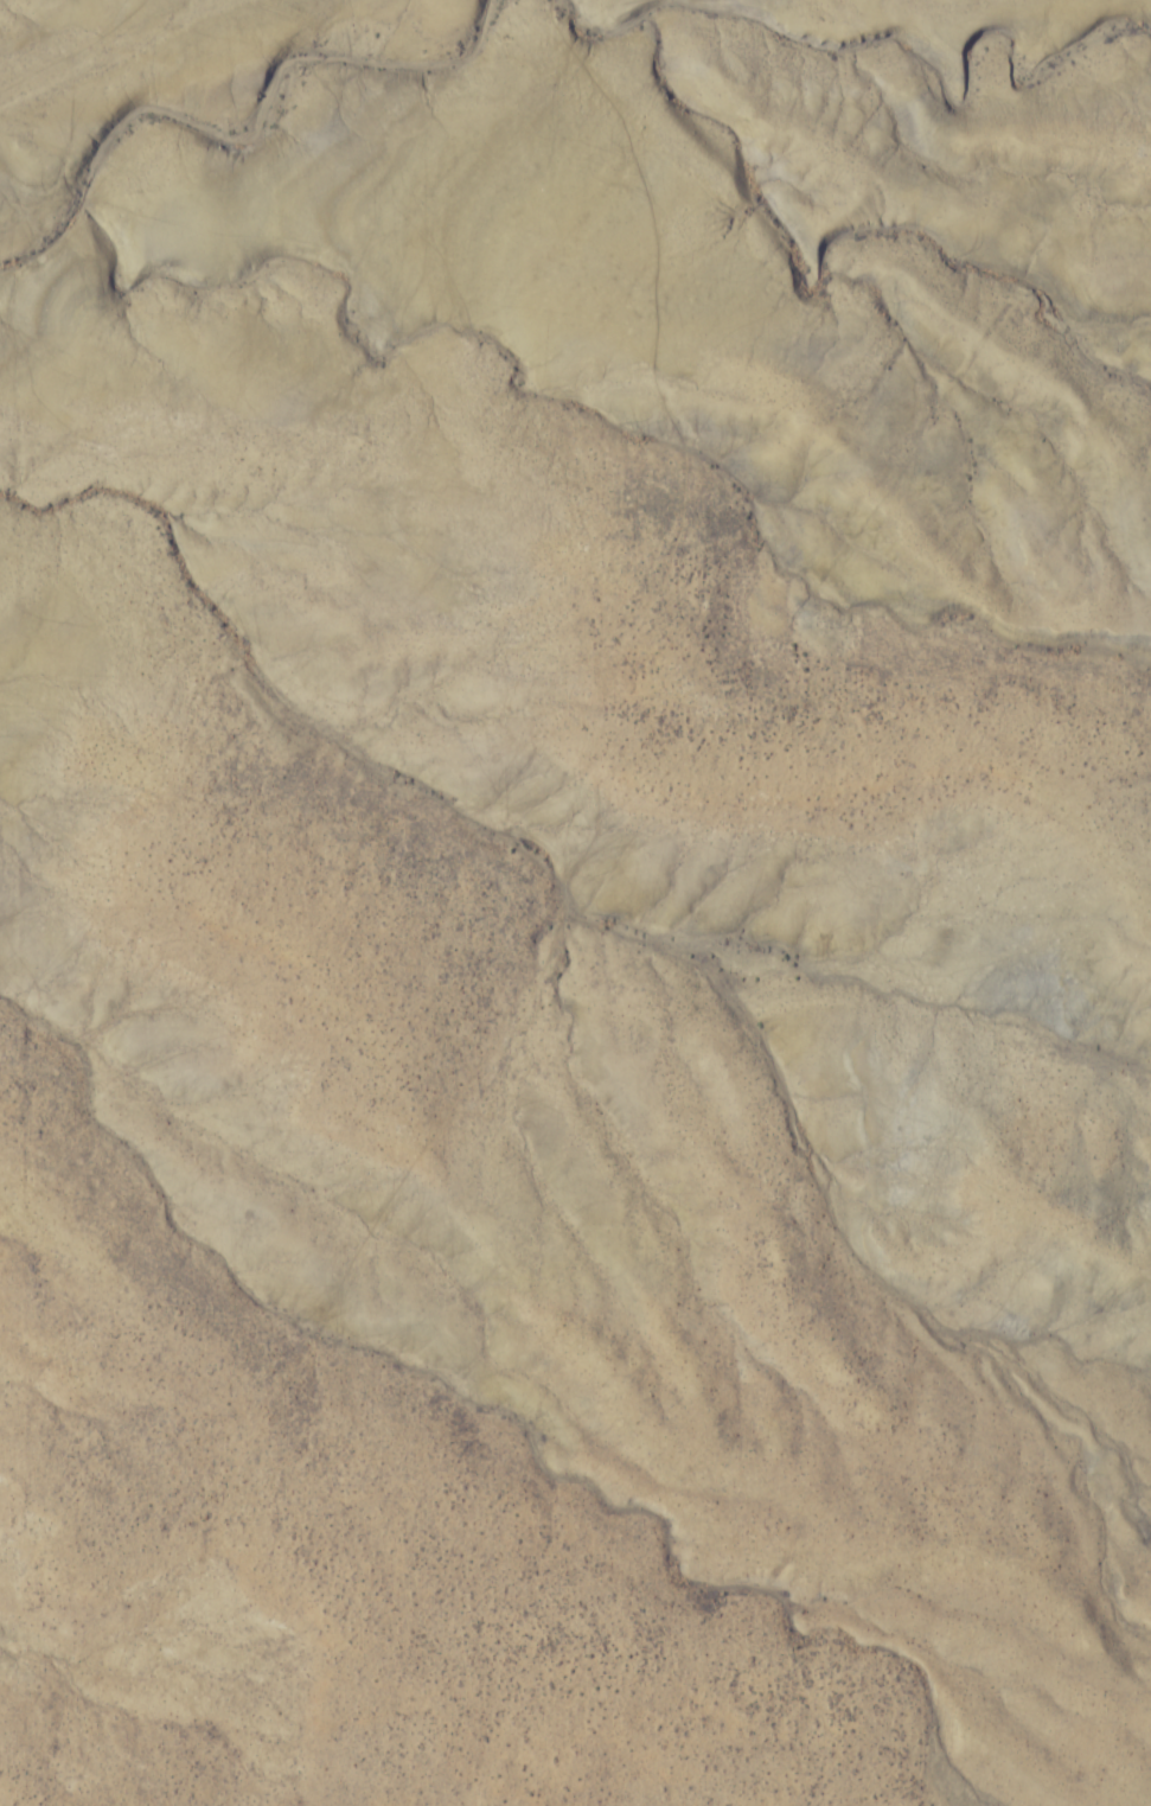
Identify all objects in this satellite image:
road: (57, 25)

